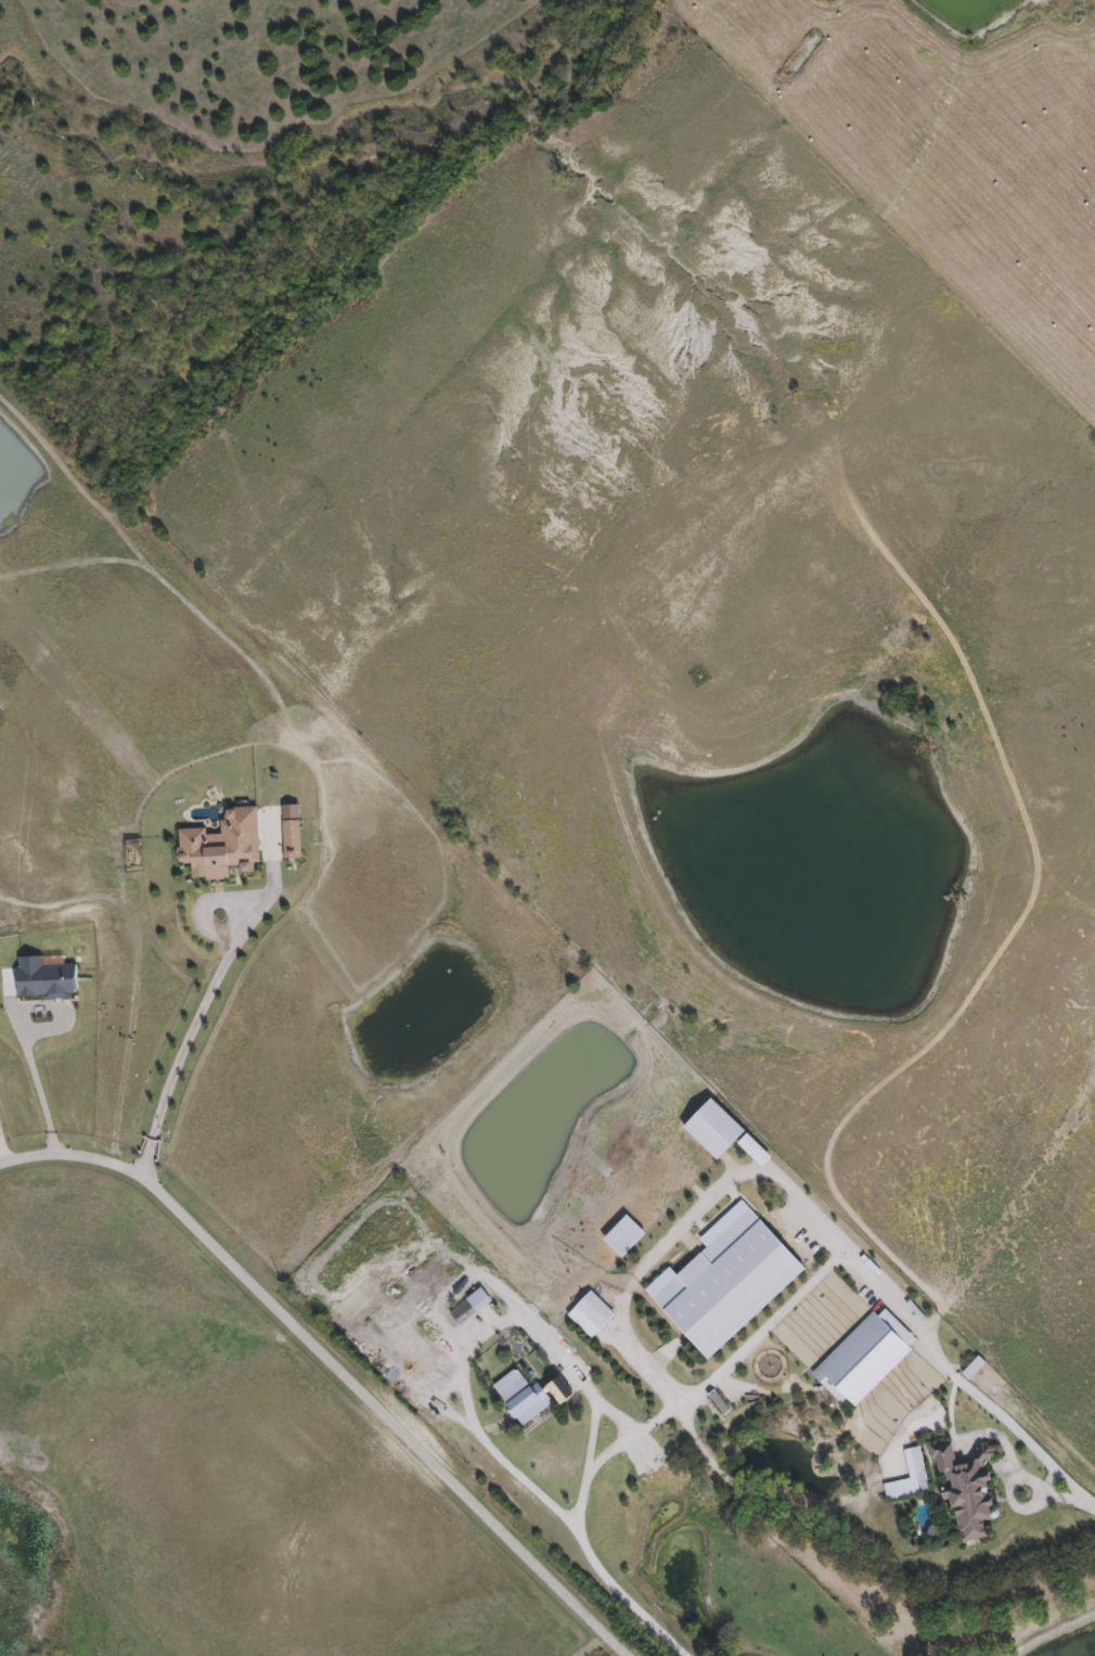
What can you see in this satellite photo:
road: (189, 1029)
road: (34, 1032)
road: (3, 1148)
road: (681, 1224)
building: (479, 1300)
road: (770, 1320)
road: (474, 1340)
road: (332, 1364)
building: (561, 1390)
building: (525, 1401)
building: (968, 1494)

